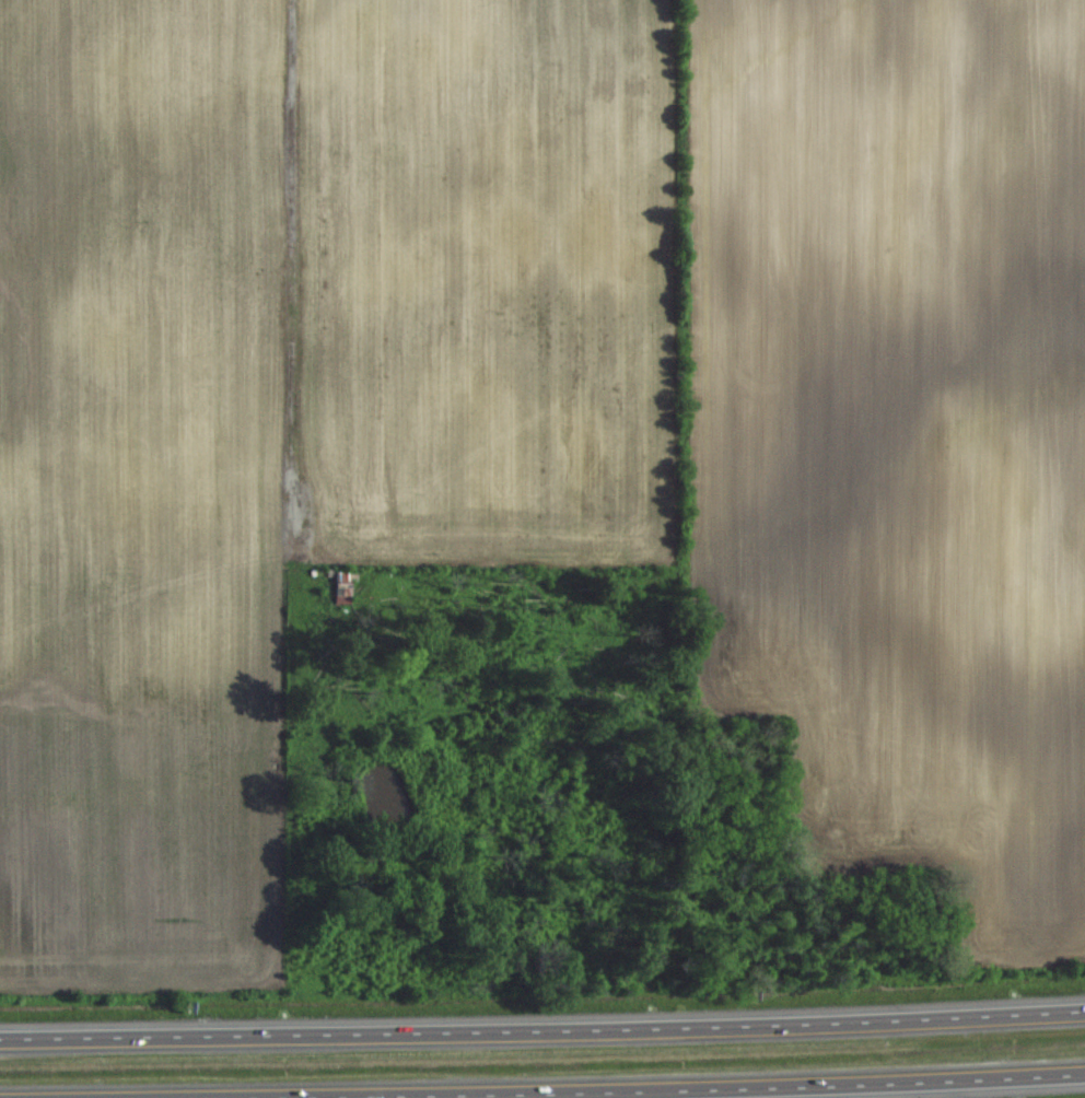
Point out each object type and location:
building: (345, 583)
road: (542, 1031)
road: (653, 1087)

